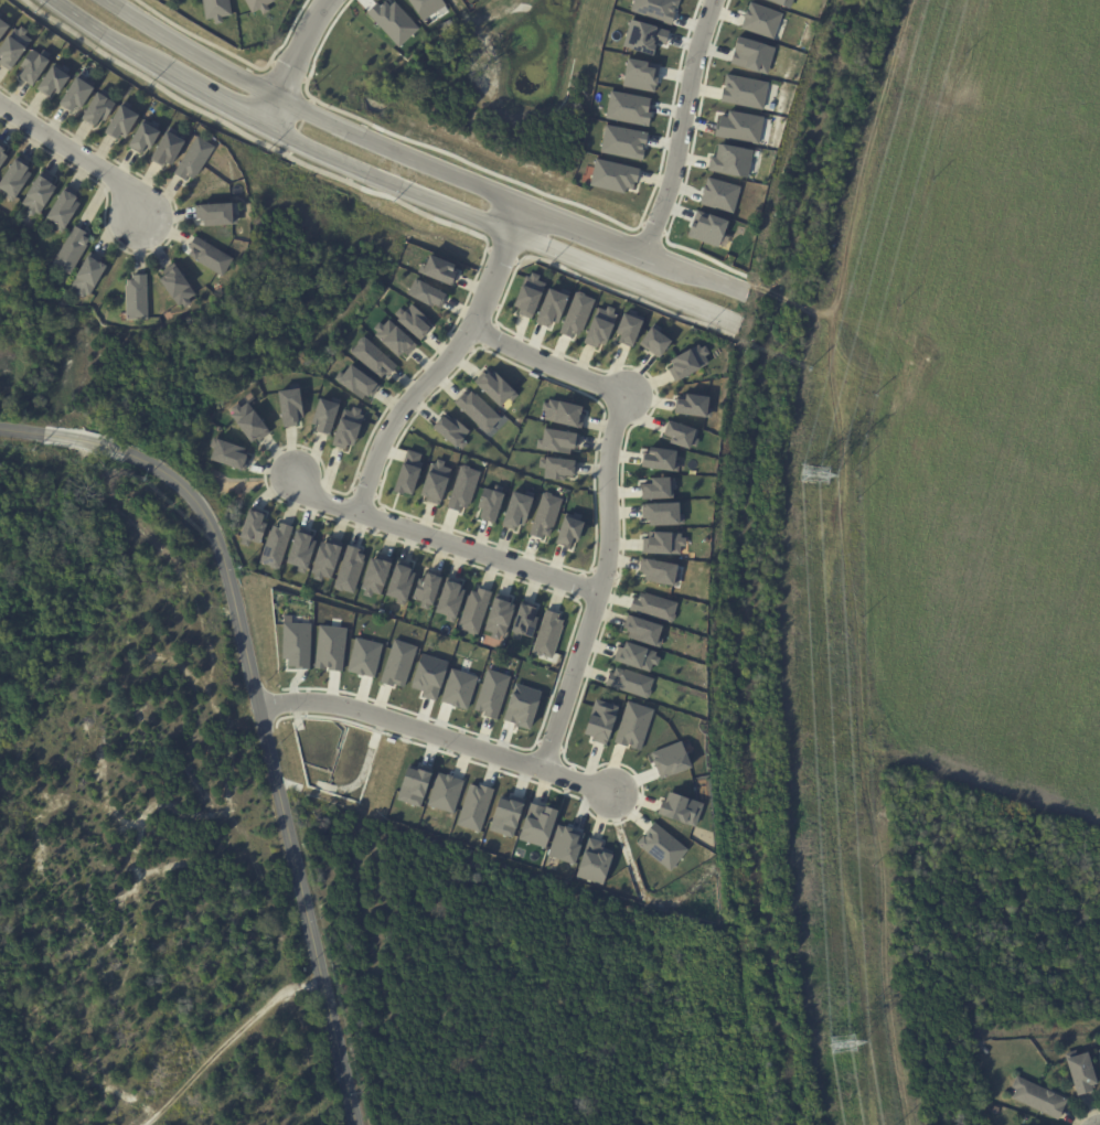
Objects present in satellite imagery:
building: (165, 0)
building: (784, 2)
building: (258, 6)
building: (428, 7)
building: (658, 9)
building: (216, 10)
building: (762, 20)
building: (394, 21)
building: (2, 25)
building: (647, 35)
building: (12, 47)
building: (754, 55)
road: (293, 62)
building: (32, 66)
building: (642, 74)
building: (52, 81)
building: (746, 92)
building: (75, 96)
building: (630, 107)
building: (97, 108)
road: (307, 115)
building: (120, 122)
road: (682, 127)
building: (740, 127)
road: (274, 130)
building: (142, 137)
building: (624, 141)
road: (79, 152)
building: (170, 153)
building: (1, 156)
building: (193, 160)
building: (733, 160)
building: (615, 175)
building: (13, 179)
building: (39, 193)
building: (720, 194)
building: (62, 210)
building: (220, 213)
road: (515, 216)
road: (583, 228)
building: (711, 229)
building: (72, 251)
building: (213, 259)
building: (439, 269)
road: (694, 272)
building: (86, 275)
road: (622, 276)
building: (427, 292)
building: (183, 293)
building: (530, 294)
building: (136, 297)
building: (554, 306)
building: (578, 314)
building: (414, 320)
building: (601, 326)
building: (631, 328)
building: (394, 337)
building: (658, 341)
building: (374, 357)
building: (688, 361)
road: (432, 371)
building: (359, 381)
building: (498, 387)
building: (693, 404)
building: (291, 406)
road: (620, 408)
building: (479, 410)
building: (565, 413)
building: (328, 414)
building: (250, 420)
building: (349, 427)
building: (453, 429)
road: (31, 431)
building: (683, 433)
building: (559, 440)
road: (90, 442)
building: (231, 453)
building: (663, 459)
building: (558, 467)
building: (409, 473)
power tower: (818, 475)
building: (437, 481)
building: (464, 486)
building: (661, 488)
building: (492, 503)
building: (520, 508)
building: (663, 513)
building: (546, 515)
building: (254, 527)
building: (572, 531)
road: (441, 539)
building: (665, 543)
building: (276, 544)
building: (302, 550)
building: (328, 559)
building: (350, 569)
building: (663, 571)
building: (376, 576)
building: (403, 582)
building: (428, 589)
building: (451, 600)
building: (655, 606)
building: (474, 610)
building: (501, 617)
building: (525, 621)
building: (645, 630)
building: (548, 633)
building: (297, 644)
building: (331, 647)
building: (638, 655)
building: (365, 657)
building: (399, 663)
building: (430, 676)
road: (568, 679)
building: (631, 682)
building: (460, 688)
building: (493, 693)
building: (524, 706)
building: (602, 720)
building: (634, 725)
road: (435, 733)
building: (672, 759)
road: (269, 765)
building: (414, 784)
building: (446, 792)
building: (476, 807)
building: (681, 808)
building: (508, 815)
building: (540, 824)
building: (567, 844)
building: (663, 846)
building: (596, 861)
road: (225, 1043)
power tower: (843, 1043)
building: (1099, 1052)
building: (1079, 1072)
building: (1037, 1097)
building: (995, 1110)
building: (1034, 1124)

